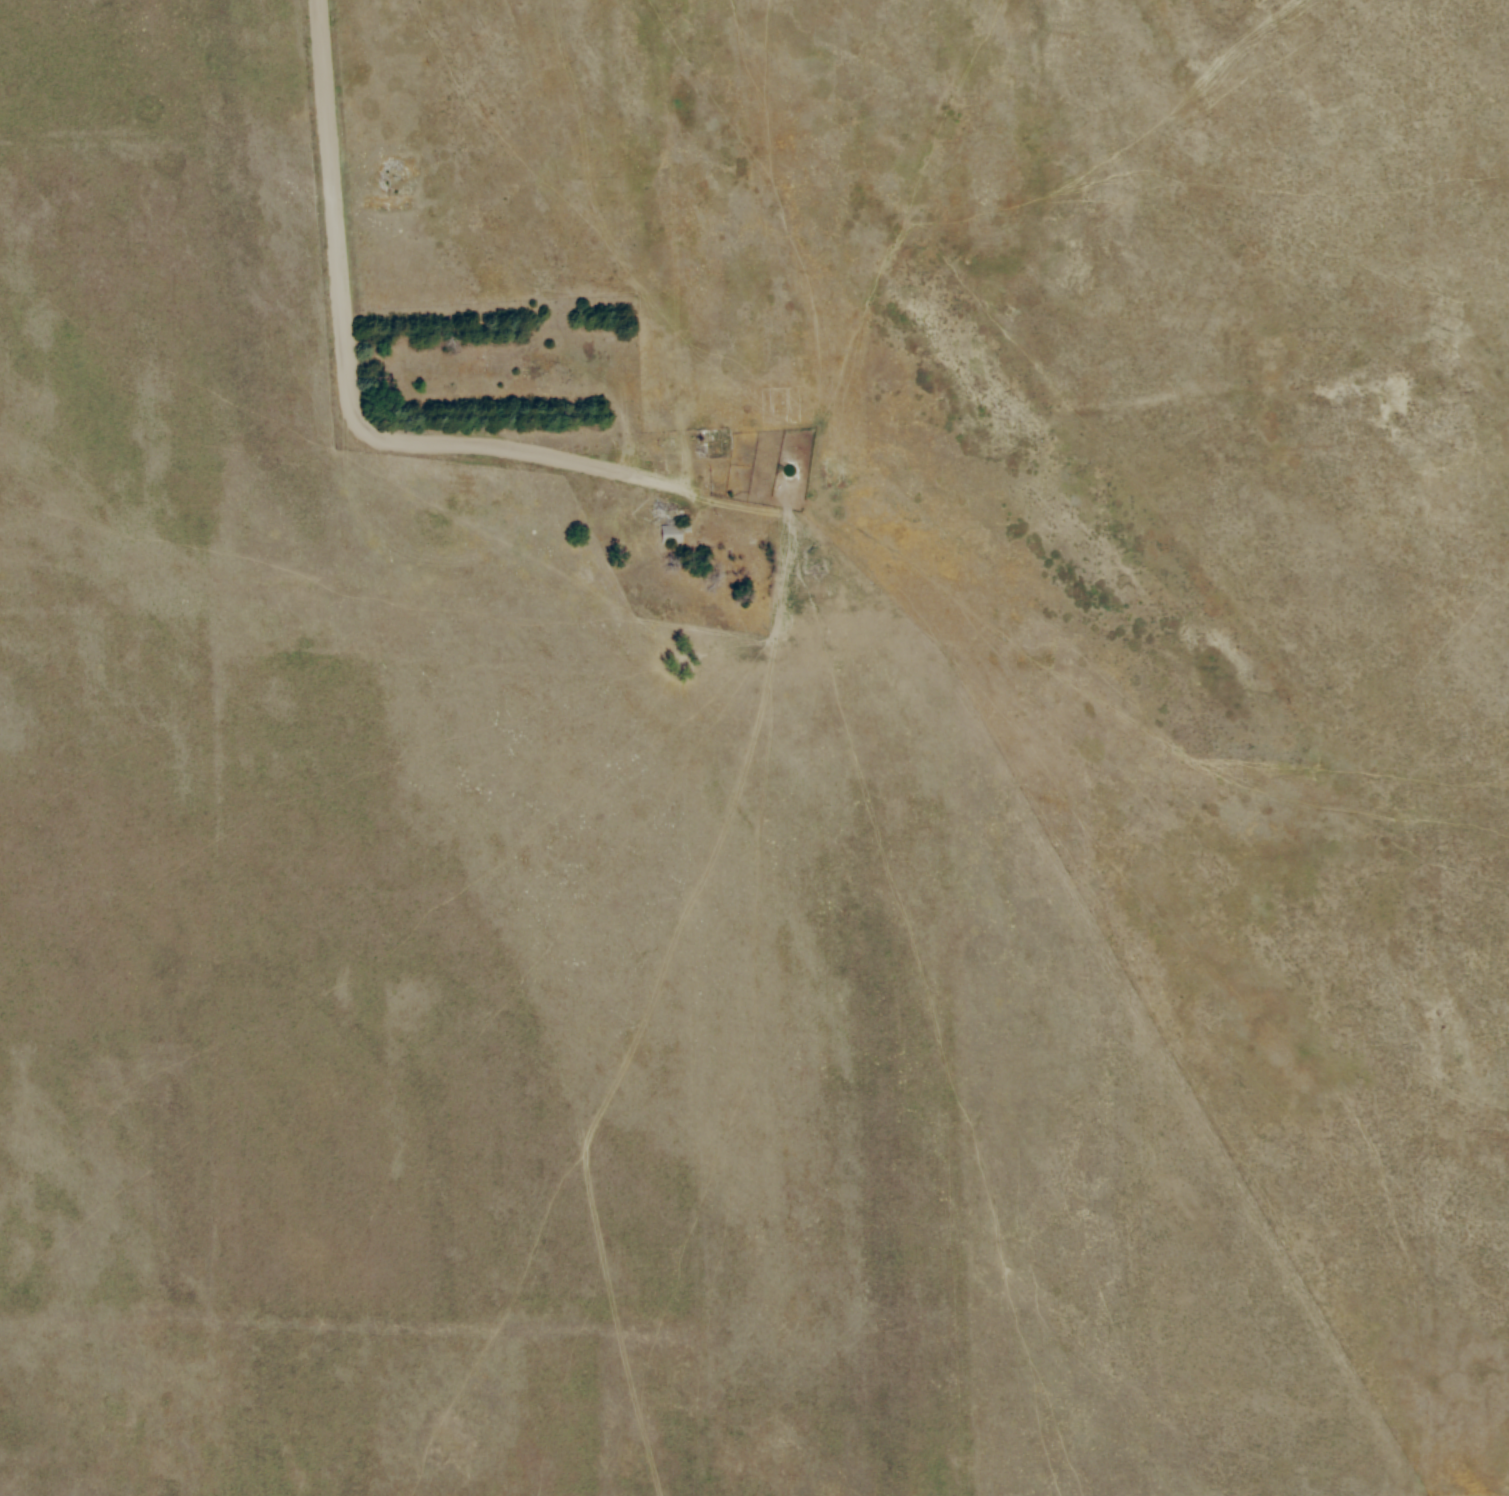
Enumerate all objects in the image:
road: (334, 212)
building: (670, 534)

